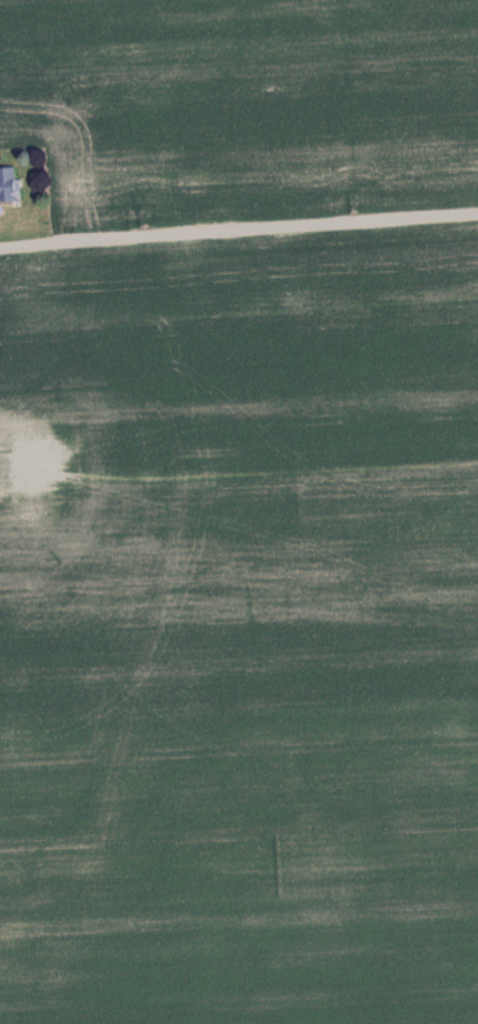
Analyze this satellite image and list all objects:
building: (8, 185)
road: (239, 211)

